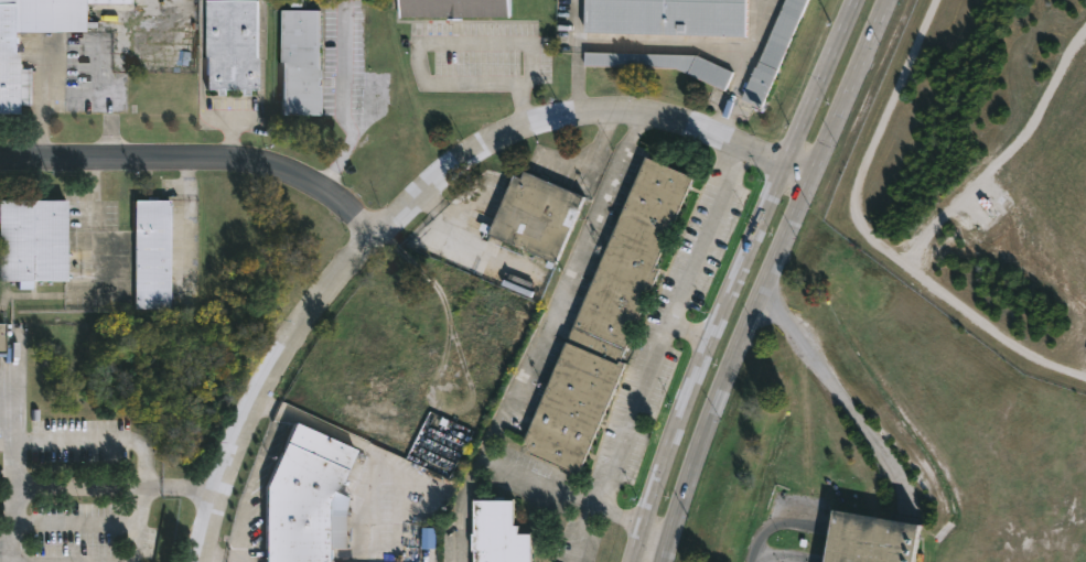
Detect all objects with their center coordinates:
building: (453, 8)
building: (665, 15)
road: (663, 44)
building: (229, 45)
building: (9, 46)
building: (774, 52)
road: (417, 53)
road: (576, 56)
building: (297, 62)
building: (664, 64)
road: (741, 69)
road: (345, 105)
road: (200, 159)
airport: (982, 173)
road: (417, 198)
building: (537, 215)
building: (37, 240)
building: (152, 253)
road: (767, 277)
road: (736, 278)
road: (563, 290)
building: (602, 320)
road: (663, 326)
road: (689, 328)
building: (6, 338)
road: (832, 389)
road: (343, 436)
road: (37, 441)
road: (507, 472)
road: (78, 485)
road: (183, 486)
building: (305, 497)
road: (585, 506)
road: (75, 522)
road: (136, 522)
road: (656, 527)
building: (501, 533)
building: (429, 538)
road: (459, 539)
building: (871, 539)
road: (208, 561)

